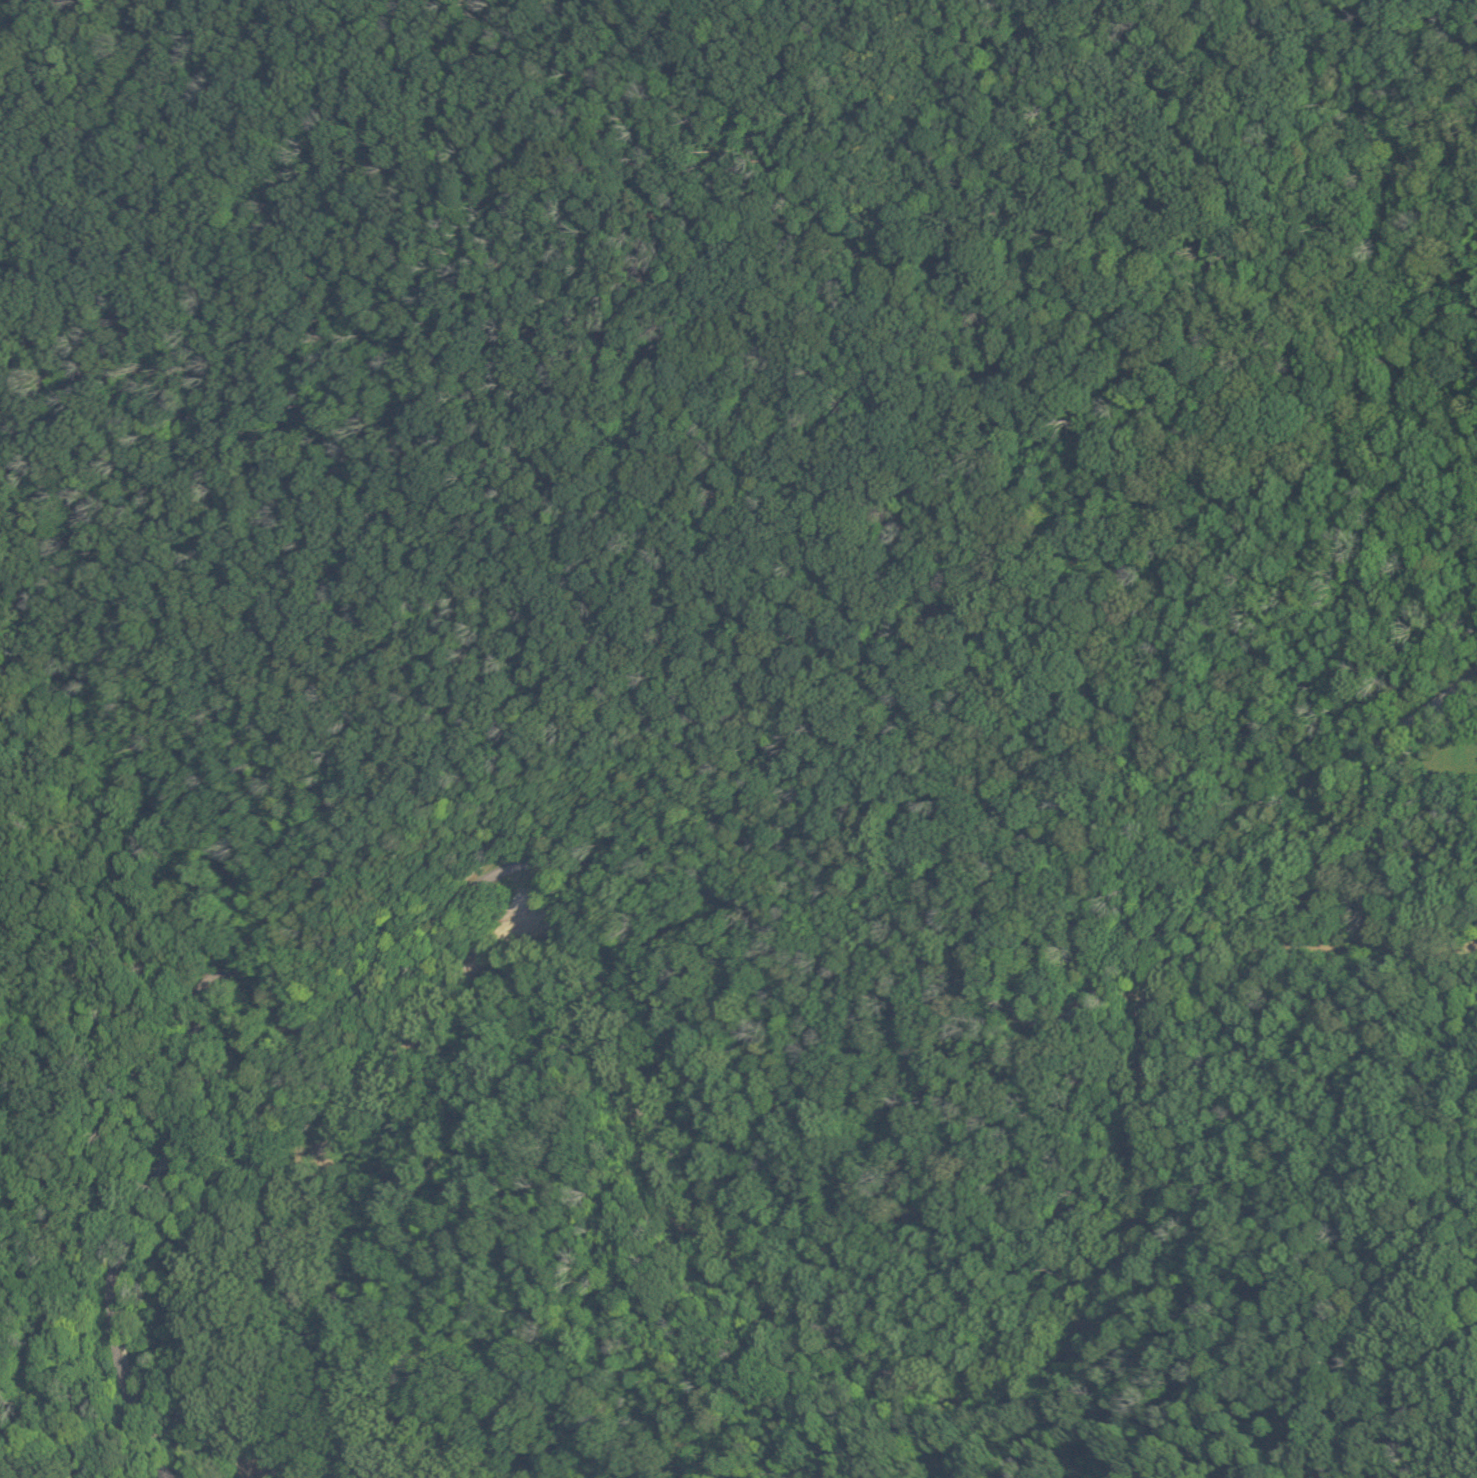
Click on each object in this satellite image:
road: (735, 1)
road: (472, 72)
road: (169, 260)
road: (969, 391)
park: (698, 606)
road: (451, 723)
road: (619, 870)
road: (1326, 1419)
road: (56, 1423)
road: (997, 1436)
road: (22, 1455)

